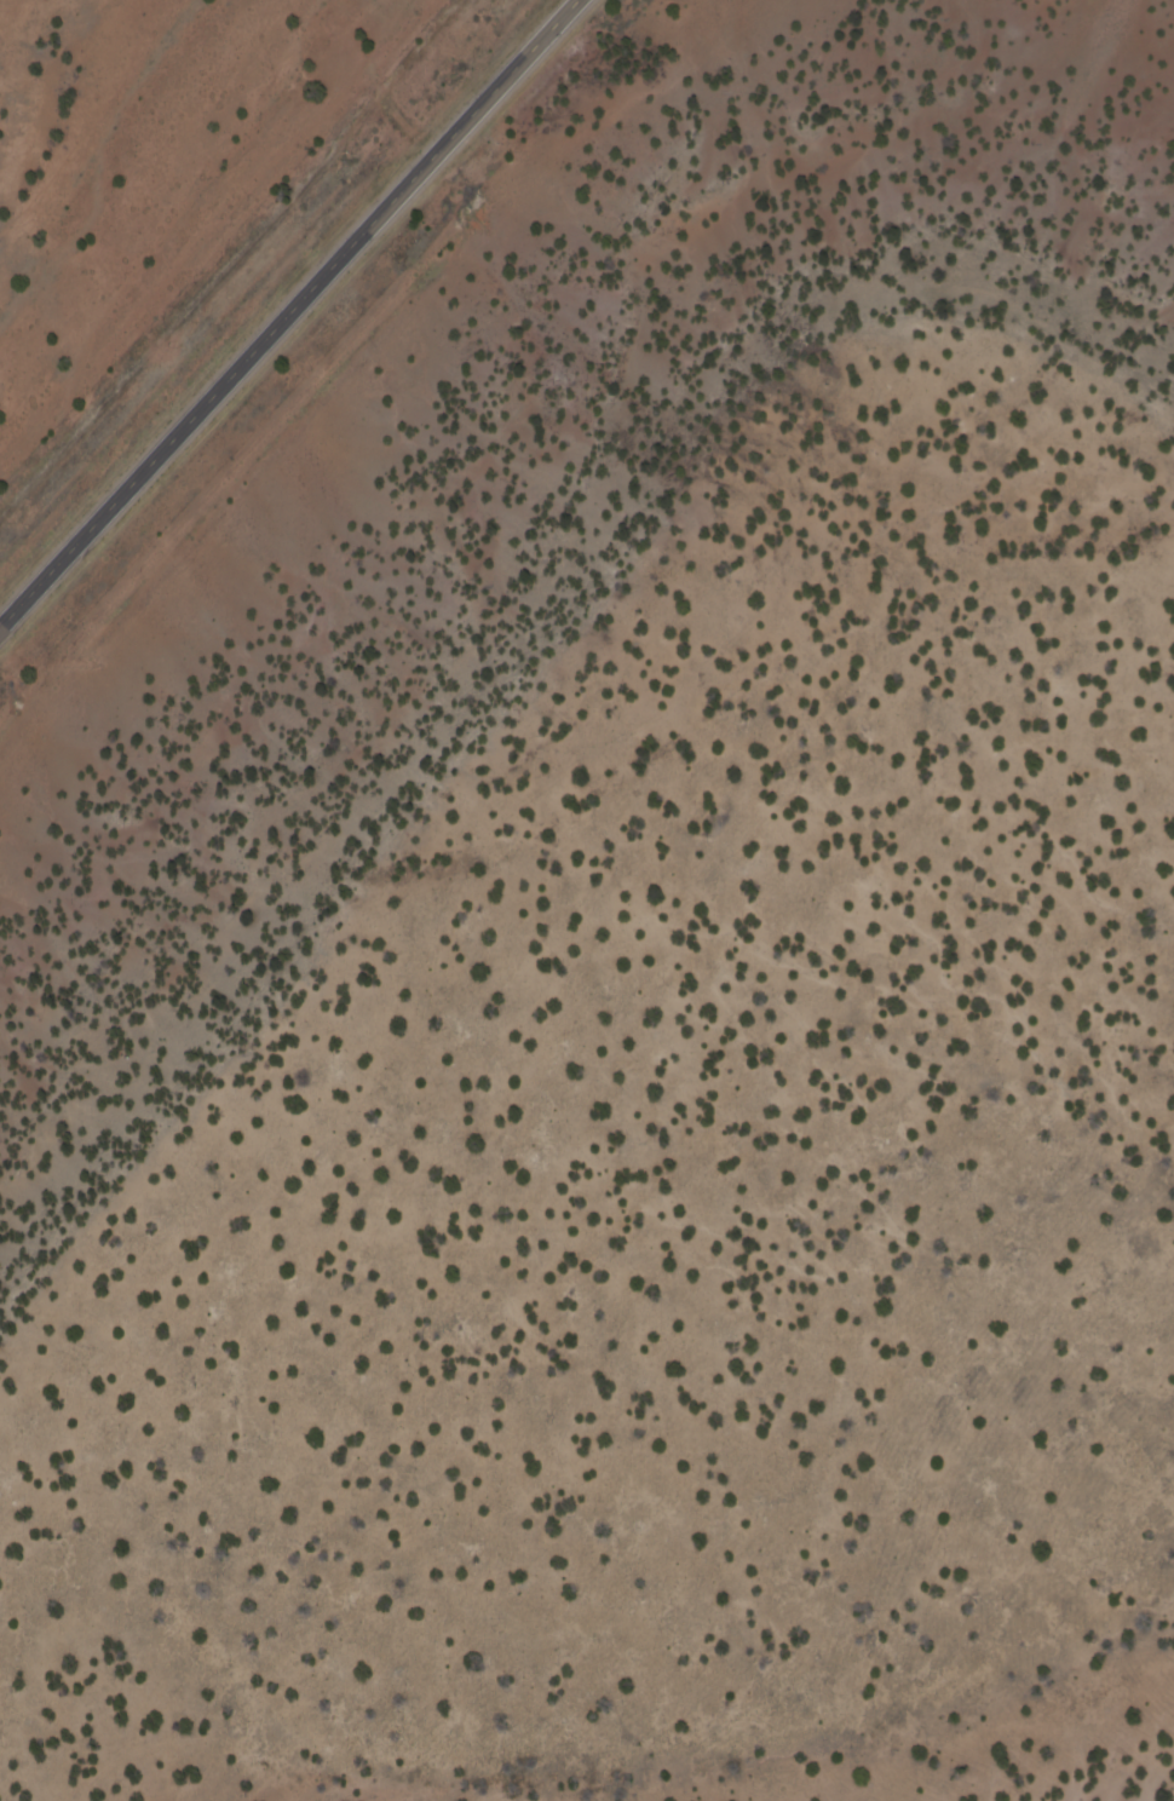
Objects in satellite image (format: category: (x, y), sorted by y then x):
road: (288, 313)

